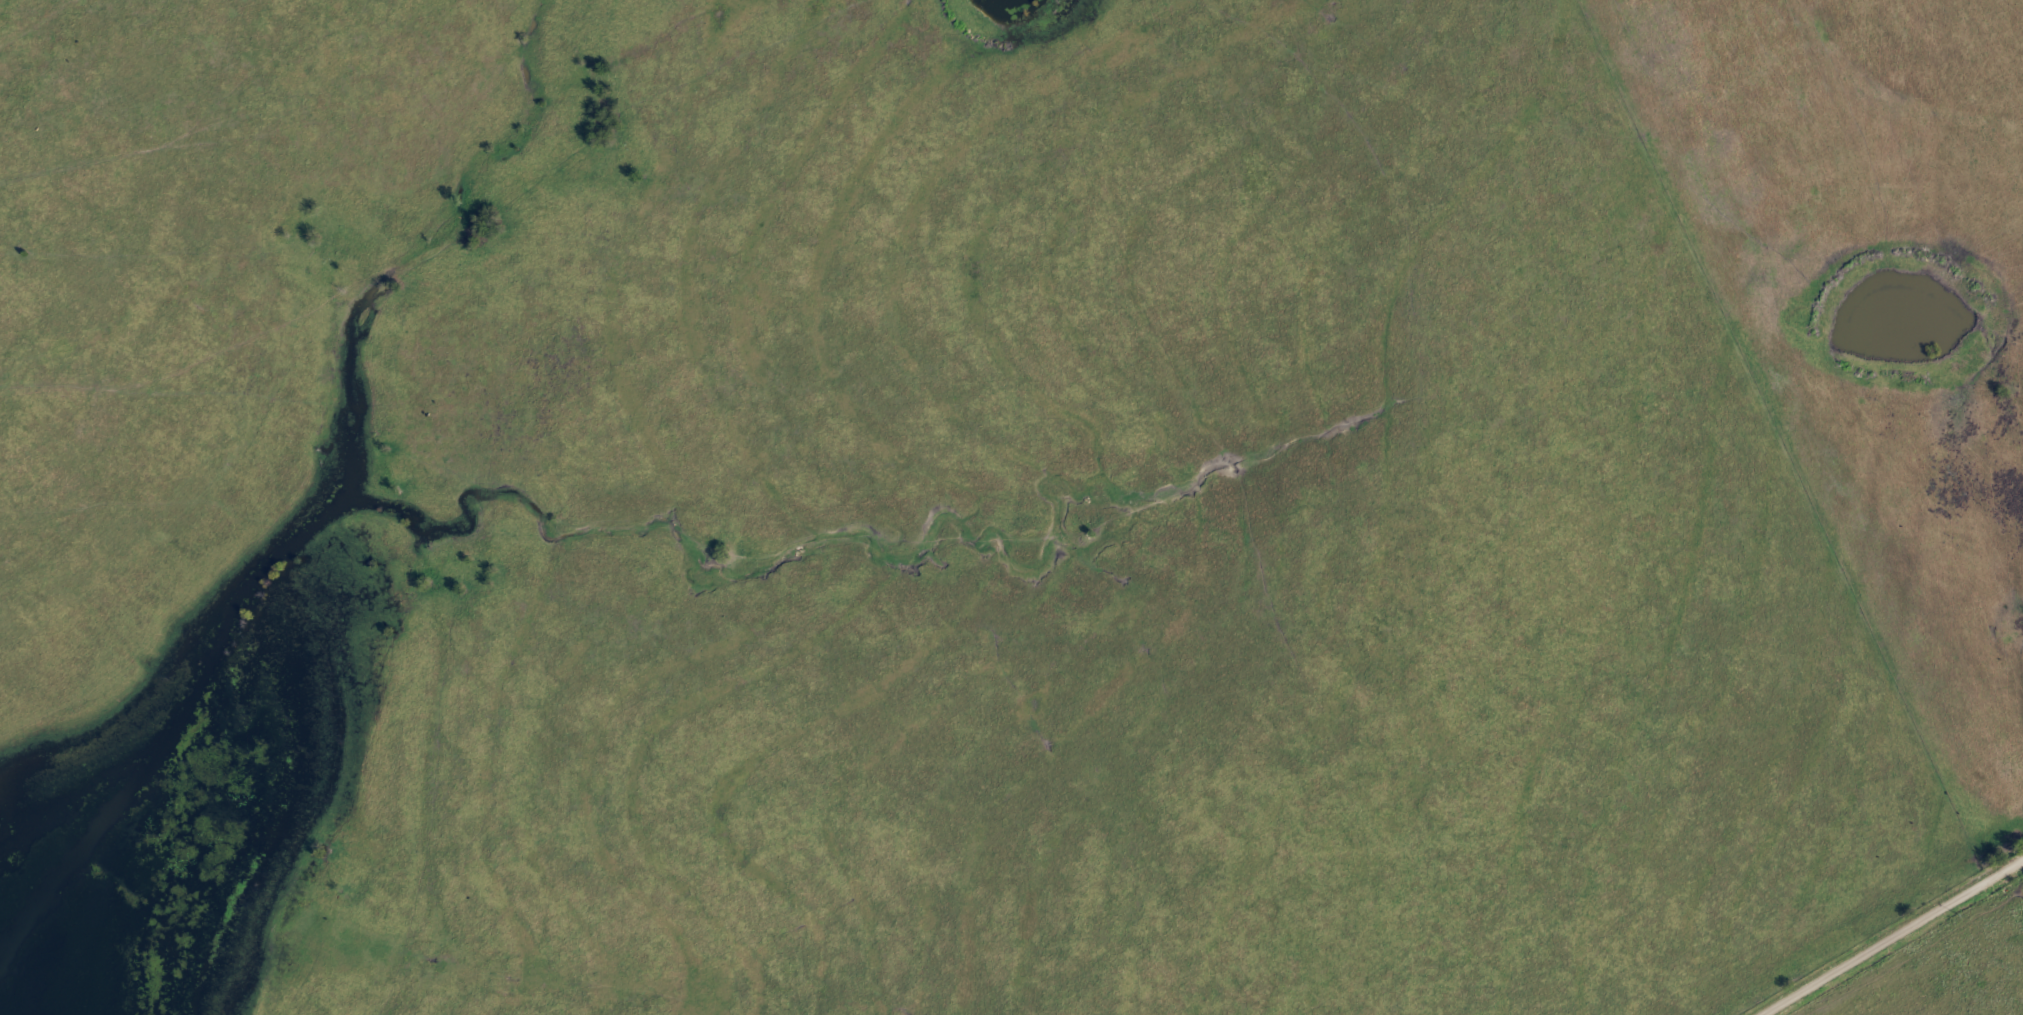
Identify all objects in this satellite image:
road: (1881, 82)
road: (1890, 936)

